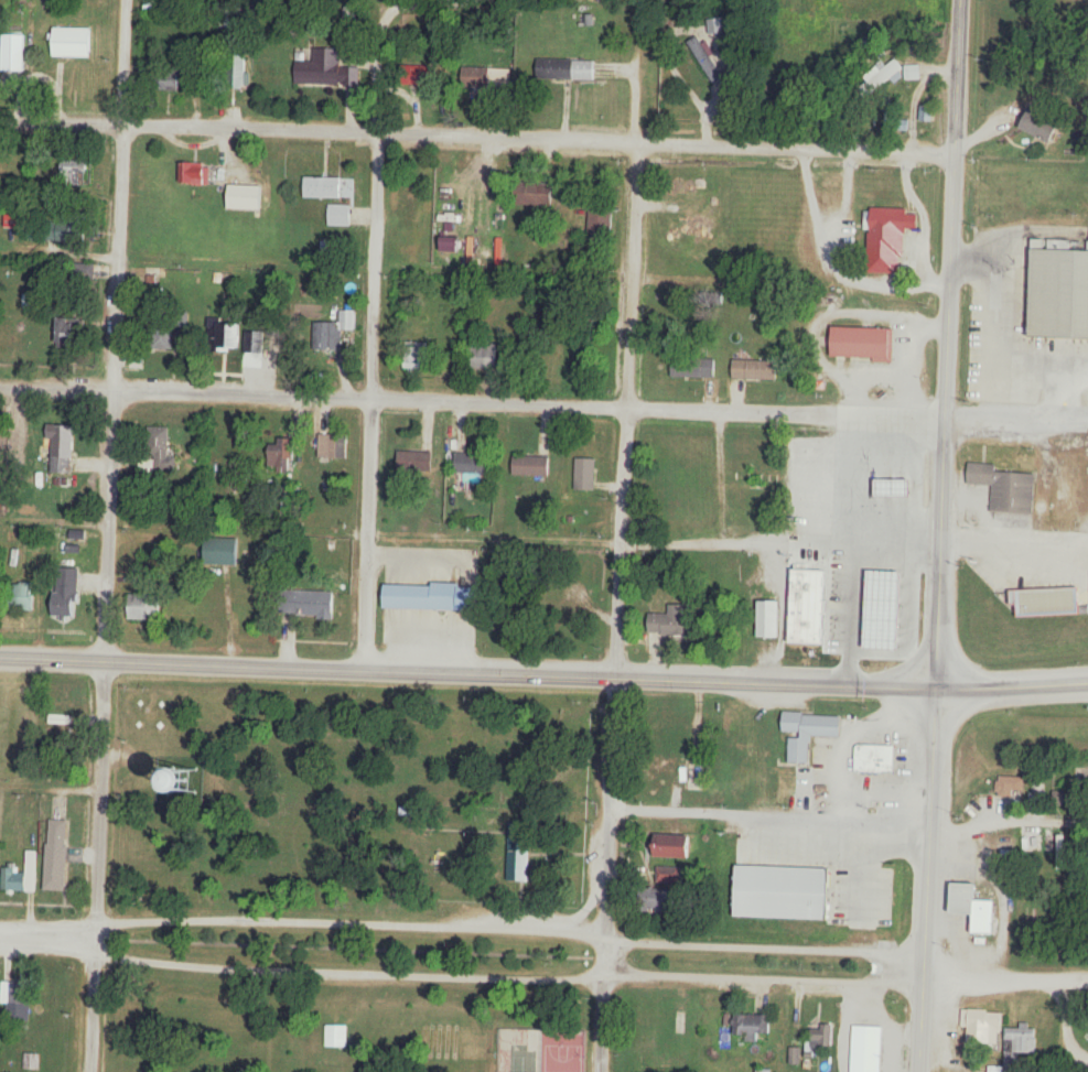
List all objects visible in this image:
building: (74, 43)
building: (14, 53)
building: (705, 62)
road: (452, 65)
building: (330, 67)
building: (563, 69)
road: (603, 71)
building: (912, 73)
building: (884, 75)
building: (171, 76)
building: (485, 79)
building: (922, 113)
road: (191, 122)
building: (1038, 123)
road: (509, 134)
road: (798, 148)
building: (76, 171)
building: (193, 173)
building: (323, 187)
building: (535, 195)
building: (246, 197)
building: (416, 204)
building: (338, 216)
building: (12, 218)
building: (600, 220)
building: (893, 221)
building: (72, 228)
road: (831, 270)
building: (83, 272)
building: (1060, 294)
building: (332, 332)
building: (71, 334)
building: (164, 334)
building: (225, 335)
building: (863, 344)
building: (414, 356)
building: (482, 358)
building: (692, 367)
building: (755, 370)
road: (373, 397)
road: (473, 398)
road: (627, 408)
road: (1025, 416)
building: (331, 446)
building: (62, 448)
building: (155, 451)
building: (278, 457)
building: (413, 461)
building: (473, 464)
building: (529, 466)
building: (584, 474)
building: (756, 478)
building: (888, 487)
building: (1004, 487)
road: (109, 535)
road: (940, 535)
road: (778, 544)
road: (1013, 546)
building: (222, 551)
building: (909, 564)
gas station: (874, 593)
building: (66, 596)
building: (25, 597)
building: (432, 597)
building: (1052, 602)
building: (306, 604)
gas station: (1051, 604)
building: (568, 605)
building: (146, 607)
building: (766, 618)
building: (870, 620)
building: (671, 621)
road: (375, 667)
road: (918, 686)
building: (807, 730)
building: (672, 741)
building: (873, 758)
building: (692, 779)
water tower: (181, 780)
building: (219, 783)
building: (1010, 787)
road: (1008, 820)
building: (669, 845)
building: (54, 852)
building: (516, 857)
road: (606, 873)
building: (21, 875)
building: (669, 875)
park: (349, 877)
building: (783, 892)
building: (655, 900)
building: (976, 908)
building: (1036, 914)
road: (515, 932)
road: (49, 935)
road: (513, 973)
road: (1009, 981)
building: (12, 993)
building: (751, 1027)
building: (983, 1027)
building: (336, 1037)
building: (817, 1039)
building: (1019, 1041)
building: (866, 1049)
park: (538, 1050)
building: (32, 1062)
building: (658, 1070)
building: (763, 1071)

